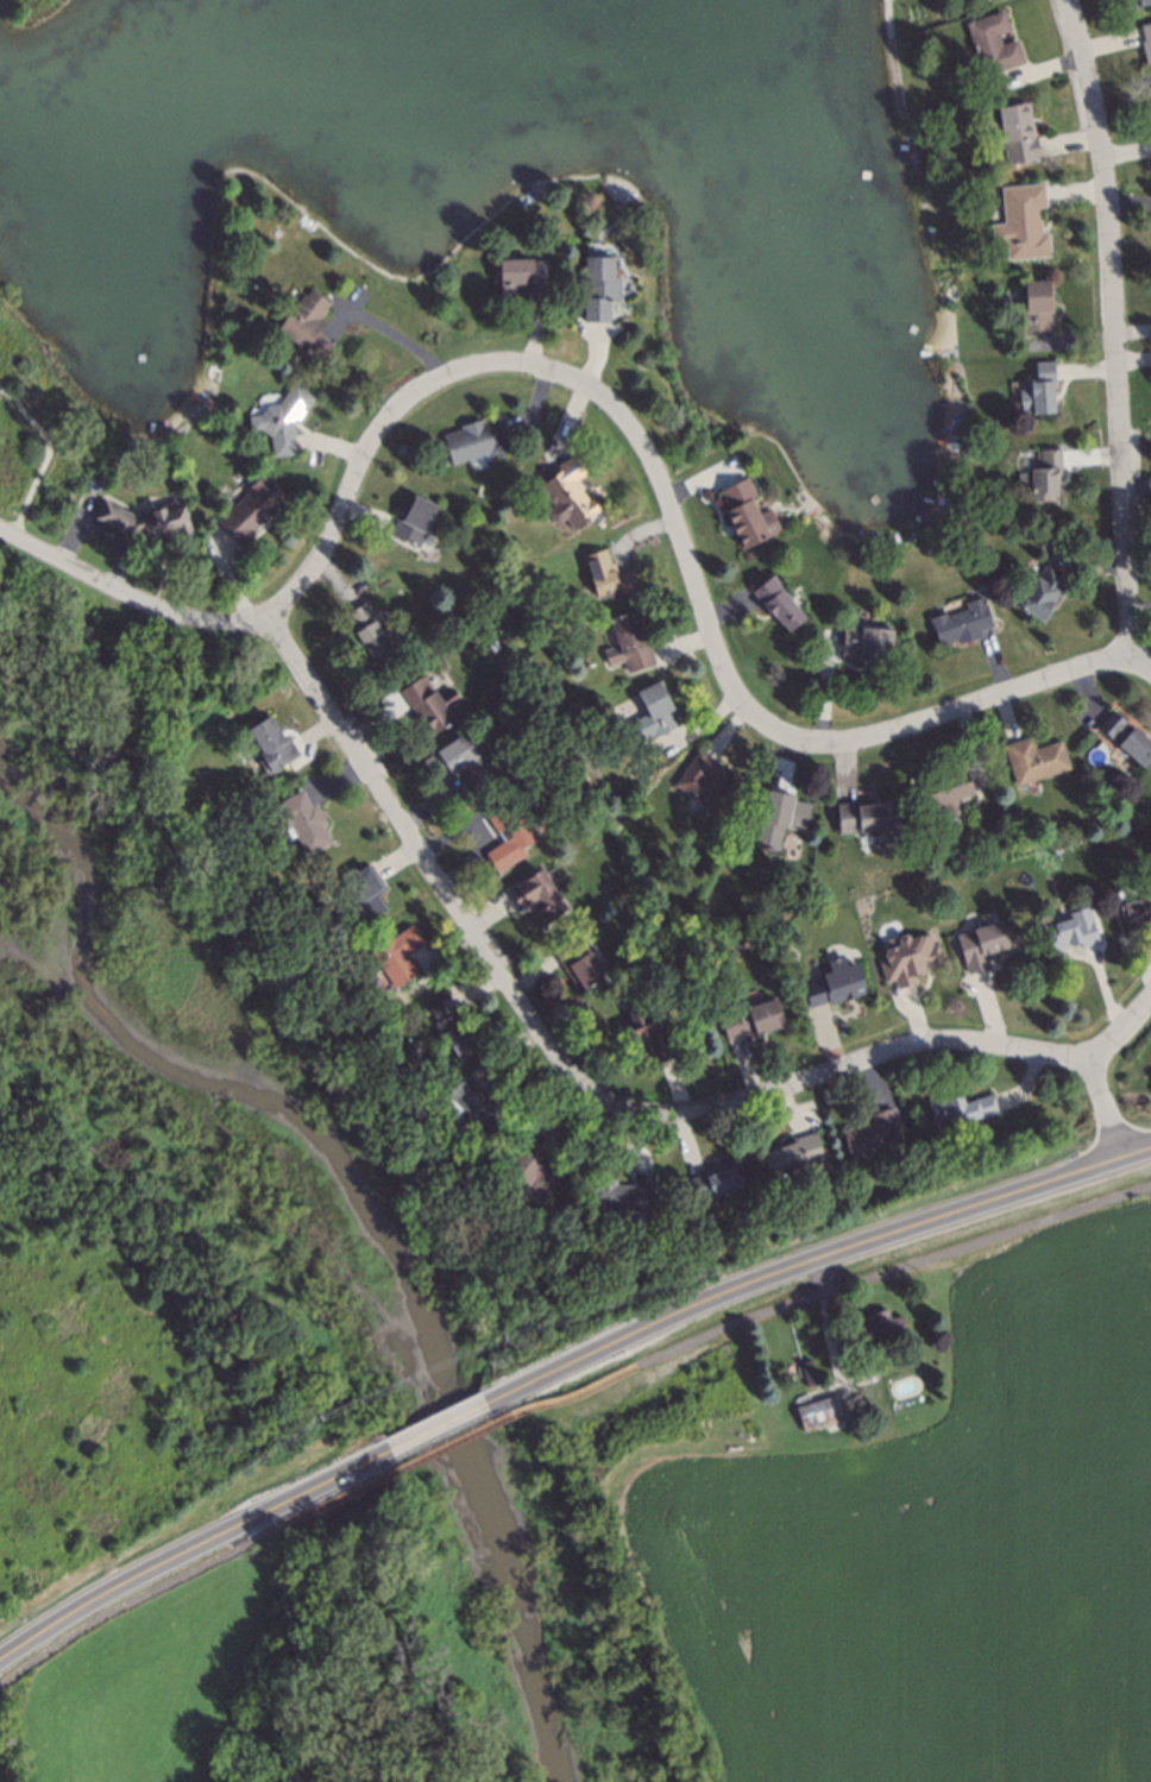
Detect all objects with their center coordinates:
building: (987, 0)
building: (1139, 1)
park: (36, 12)
building: (989, 38)
building: (1145, 39)
building: (1013, 130)
building: (1023, 219)
building: (520, 277)
building: (598, 285)
building: (1033, 306)
building: (307, 321)
road: (400, 338)
road: (1117, 338)
building: (1038, 384)
road: (405, 403)
building: (282, 415)
park: (40, 430)
building: (474, 437)
building: (1042, 471)
building: (567, 491)
building: (251, 505)
building: (748, 512)
building: (140, 516)
building: (411, 516)
building: (606, 571)
road: (697, 587)
building: (1042, 587)
road: (127, 593)
building: (779, 605)
building: (483, 617)
building: (962, 619)
building: (371, 630)
building: (634, 640)
building: (863, 641)
building: (427, 705)
building: (658, 709)
road: (956, 711)
building: (1127, 733)
building: (272, 744)
building: (1034, 756)
building: (458, 758)
building: (709, 780)
building: (946, 785)
building: (780, 814)
building: (868, 814)
building: (306, 817)
building: (509, 835)
road: (426, 861)
building: (364, 888)
building: (540, 893)
building: (1132, 903)
building: (1069, 930)
building: (985, 939)
building: (398, 953)
building: (906, 953)
building: (581, 961)
building: (837, 980)
building: (754, 1012)
building: (455, 1026)
road: (1121, 1028)
building: (648, 1029)
road: (841, 1065)
building: (483, 1101)
building: (963, 1104)
road: (1107, 1107)
building: (874, 1129)
building: (793, 1150)
building: (536, 1164)
building: (716, 1178)
building: (625, 1189)
river: (332, 1227)
road: (829, 1255)
road: (822, 1323)
building: (878, 1327)
building: (809, 1368)
building: (817, 1409)
road: (448, 1421)
crop: (918, 1541)
road: (184, 1551)

